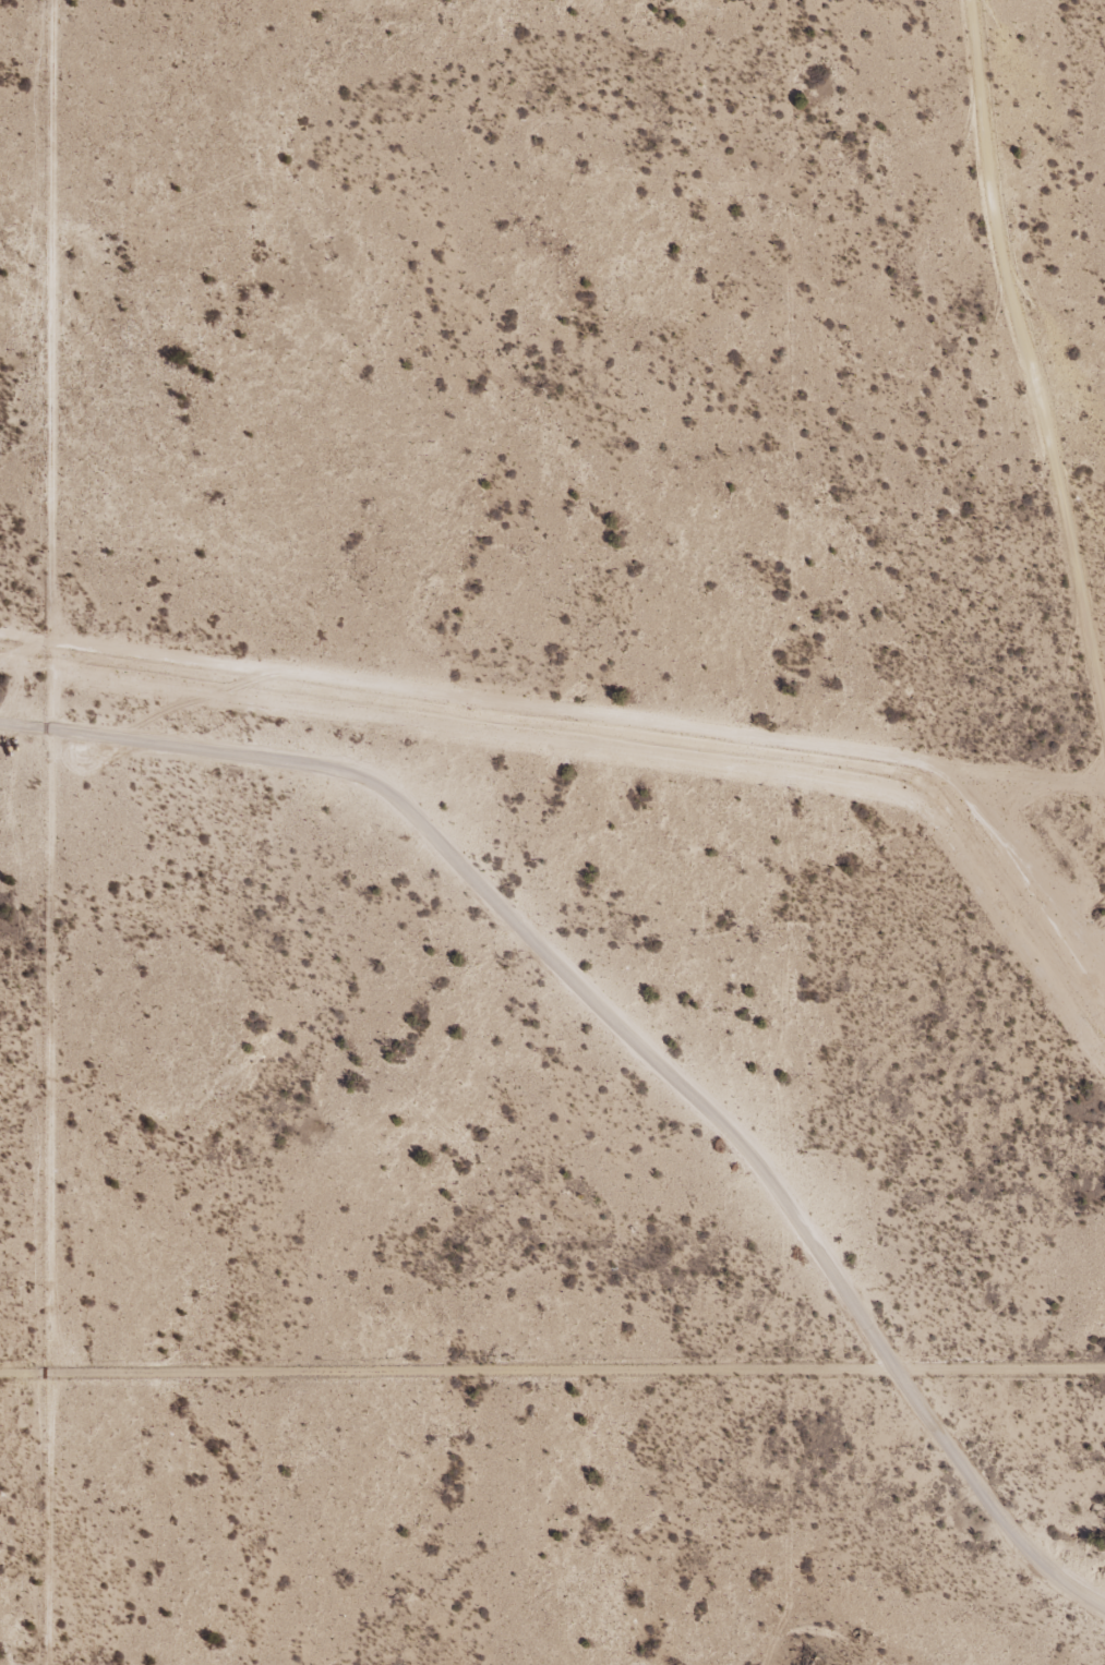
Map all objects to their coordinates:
road: (1046, 298)
road: (553, 651)

